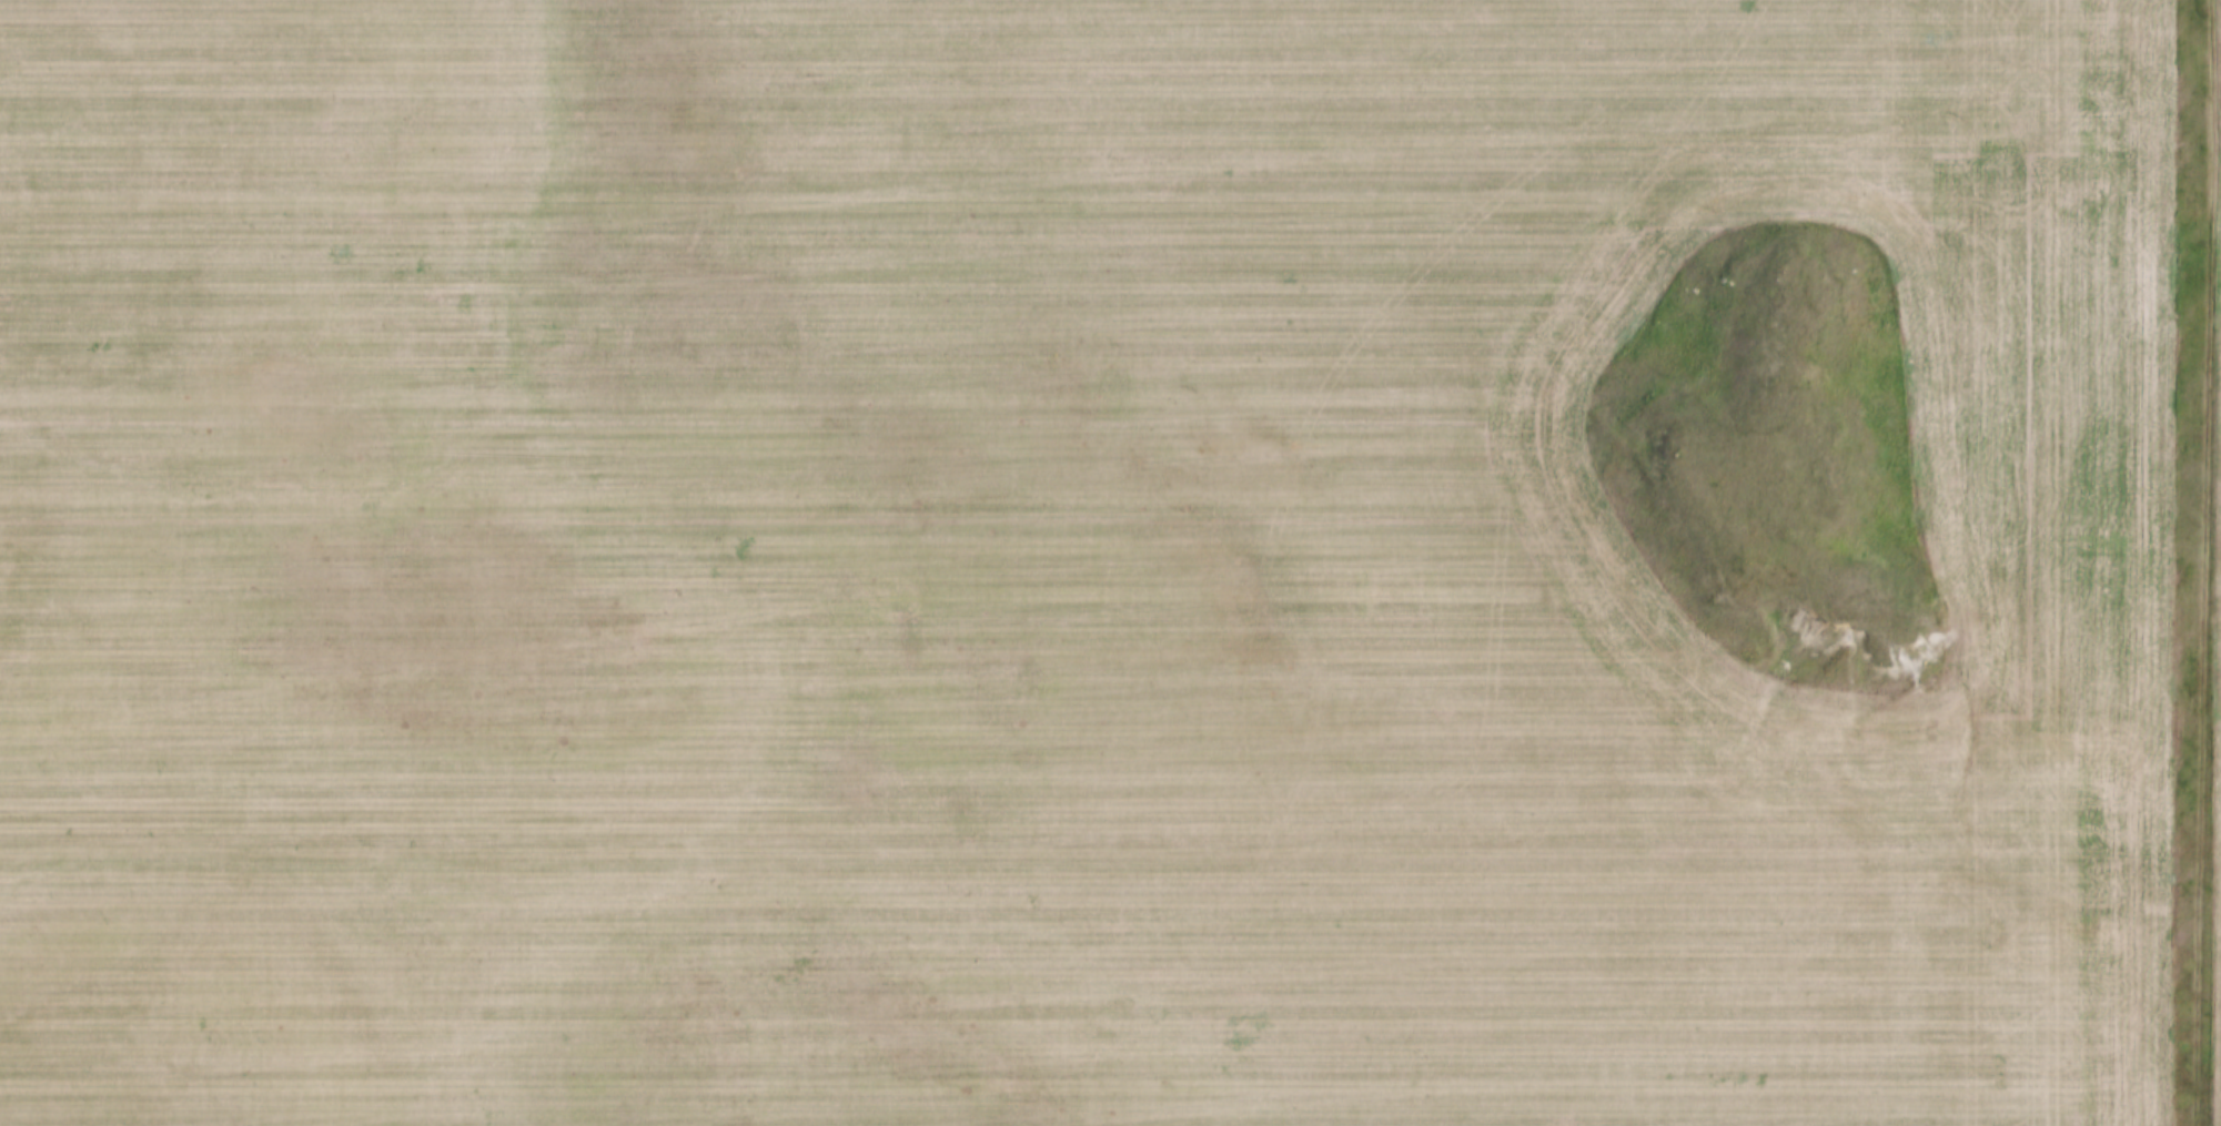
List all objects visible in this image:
road: (2204, 562)

